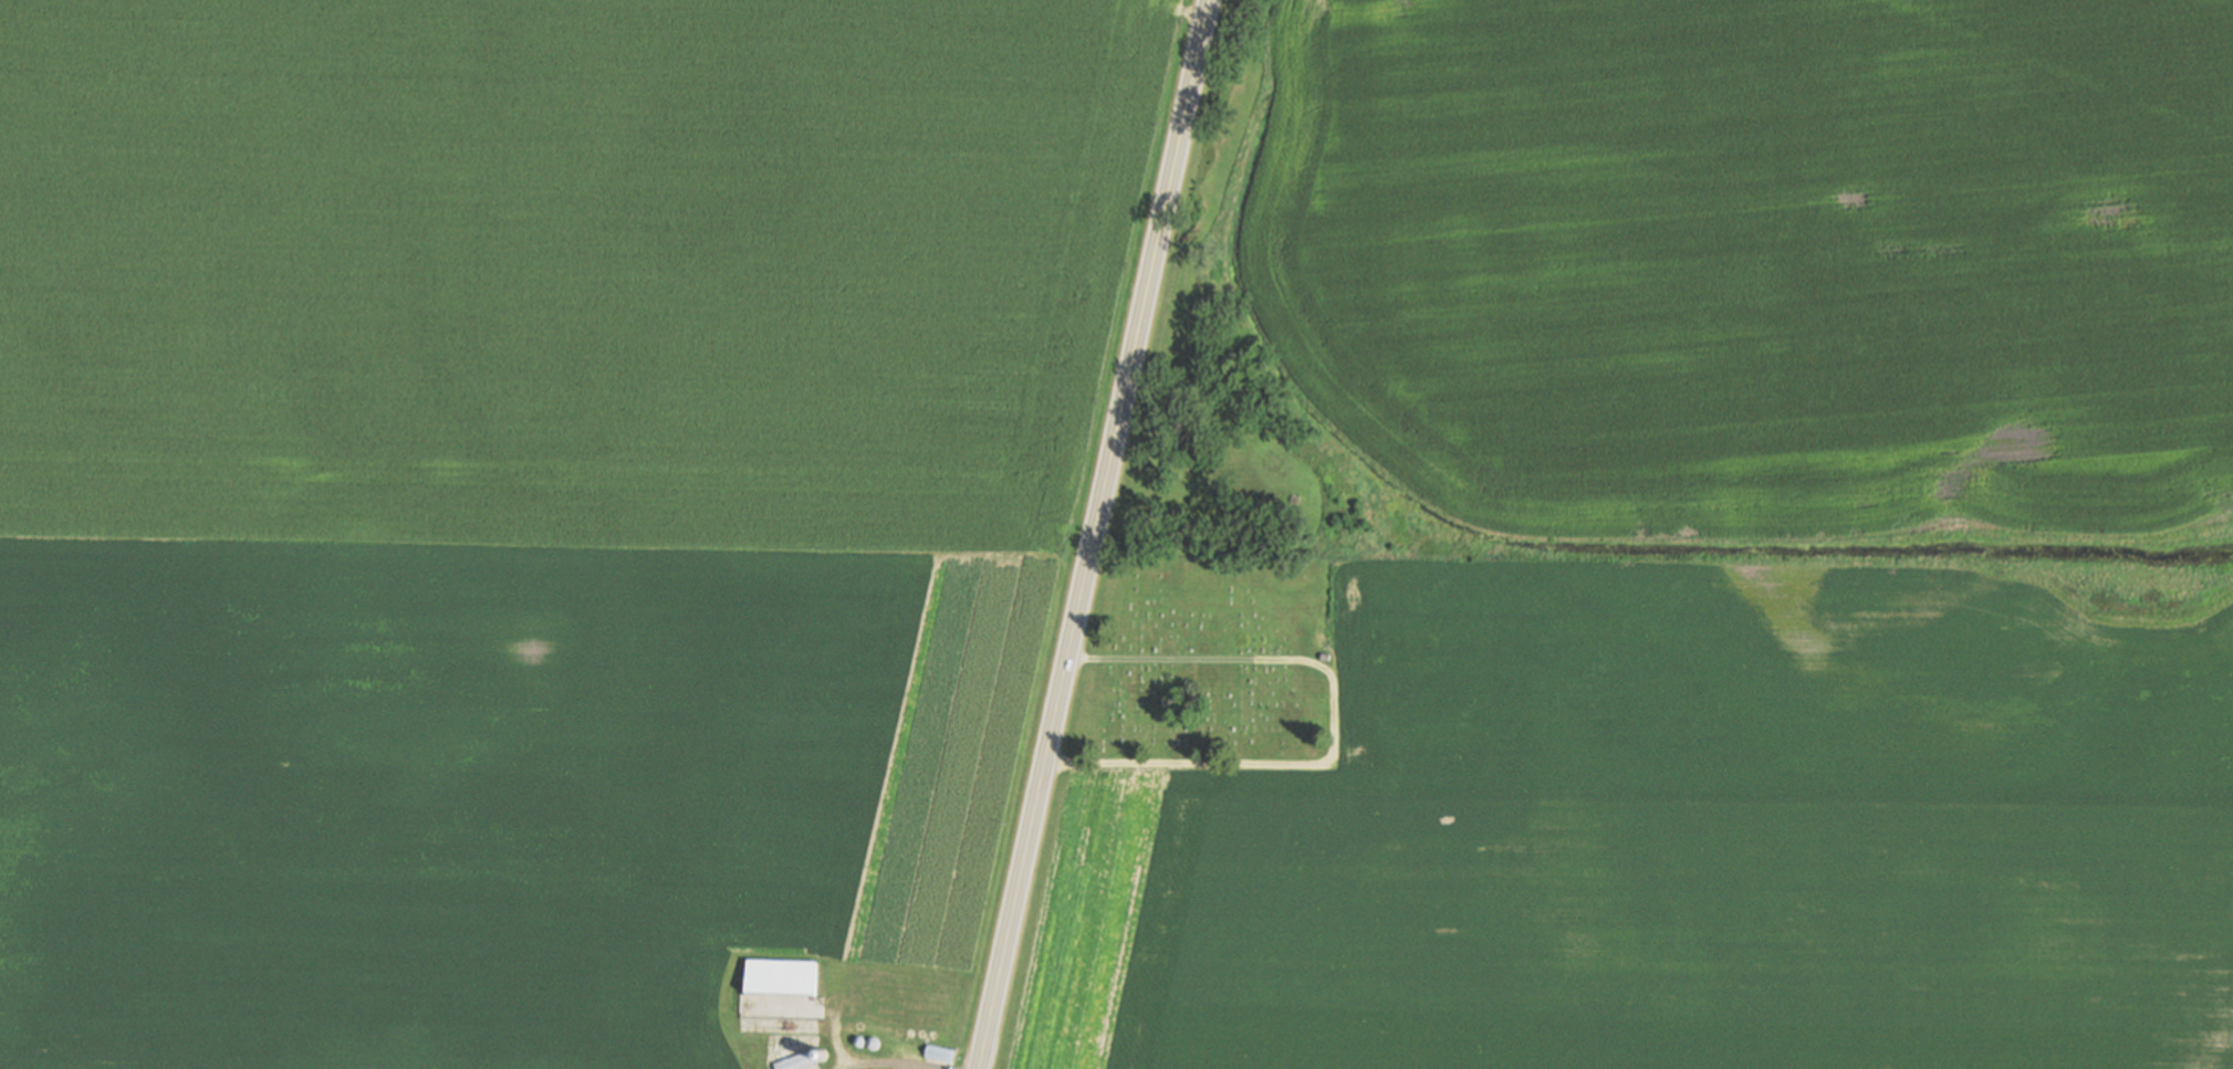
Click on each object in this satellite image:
crop: (1766, 260)
crop: (564, 269)
road: (1096, 534)
building: (1325, 656)
road: (1165, 658)
park: (1208, 661)
crop: (1674, 837)
building: (782, 975)
building: (941, 1052)
building: (799, 1060)

